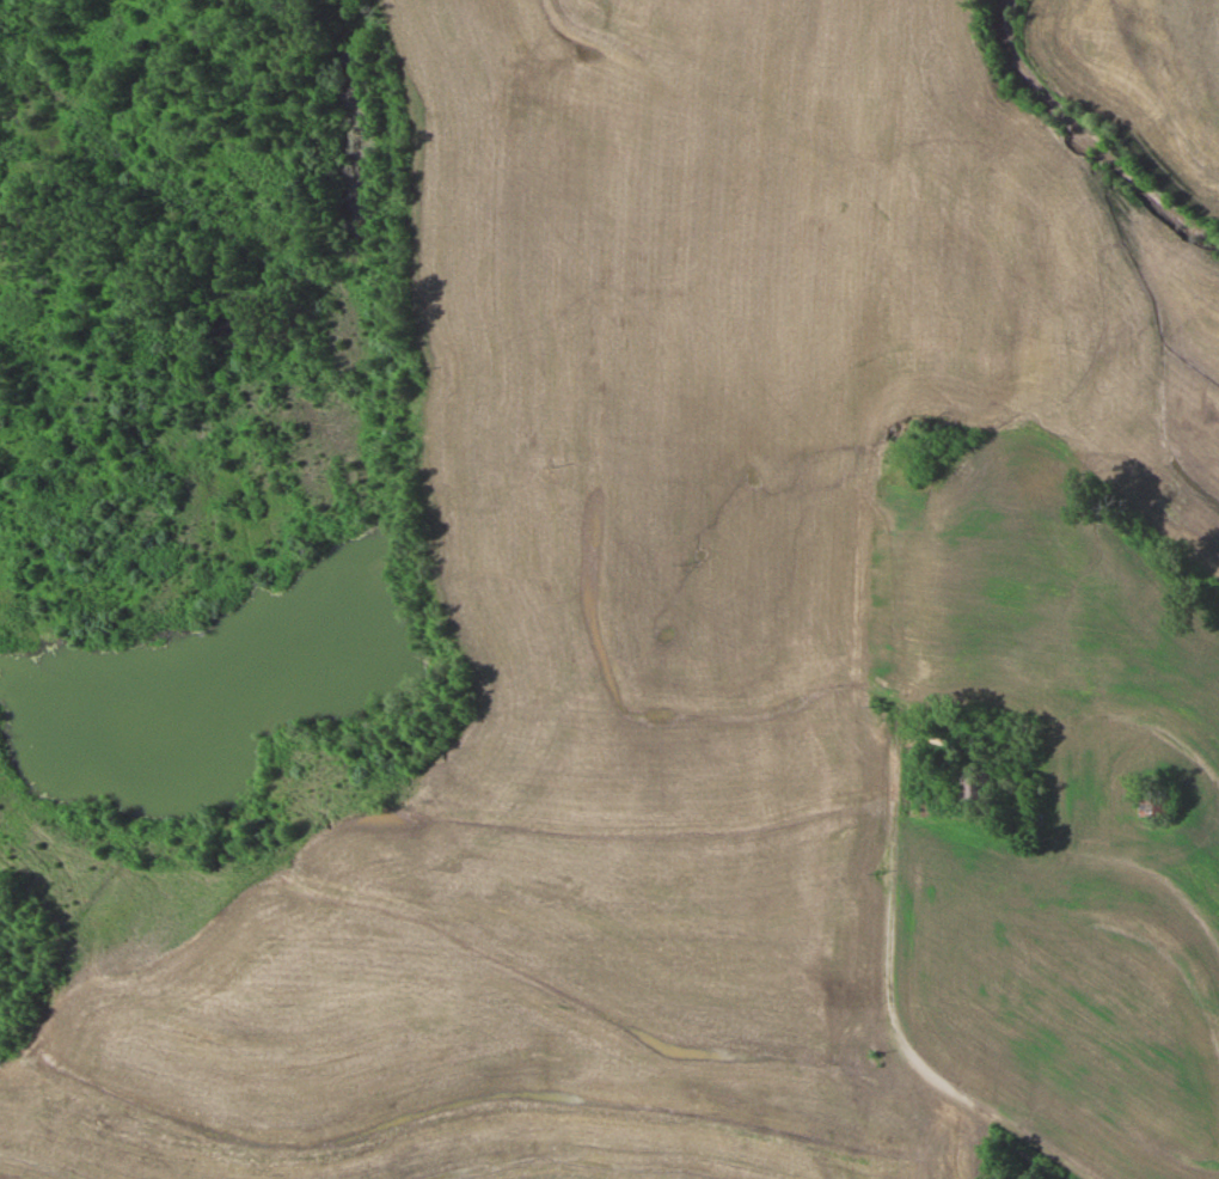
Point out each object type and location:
river: (1162, 97)
building: (1024, 733)
building: (976, 786)
building: (1159, 805)
road: (888, 1004)

